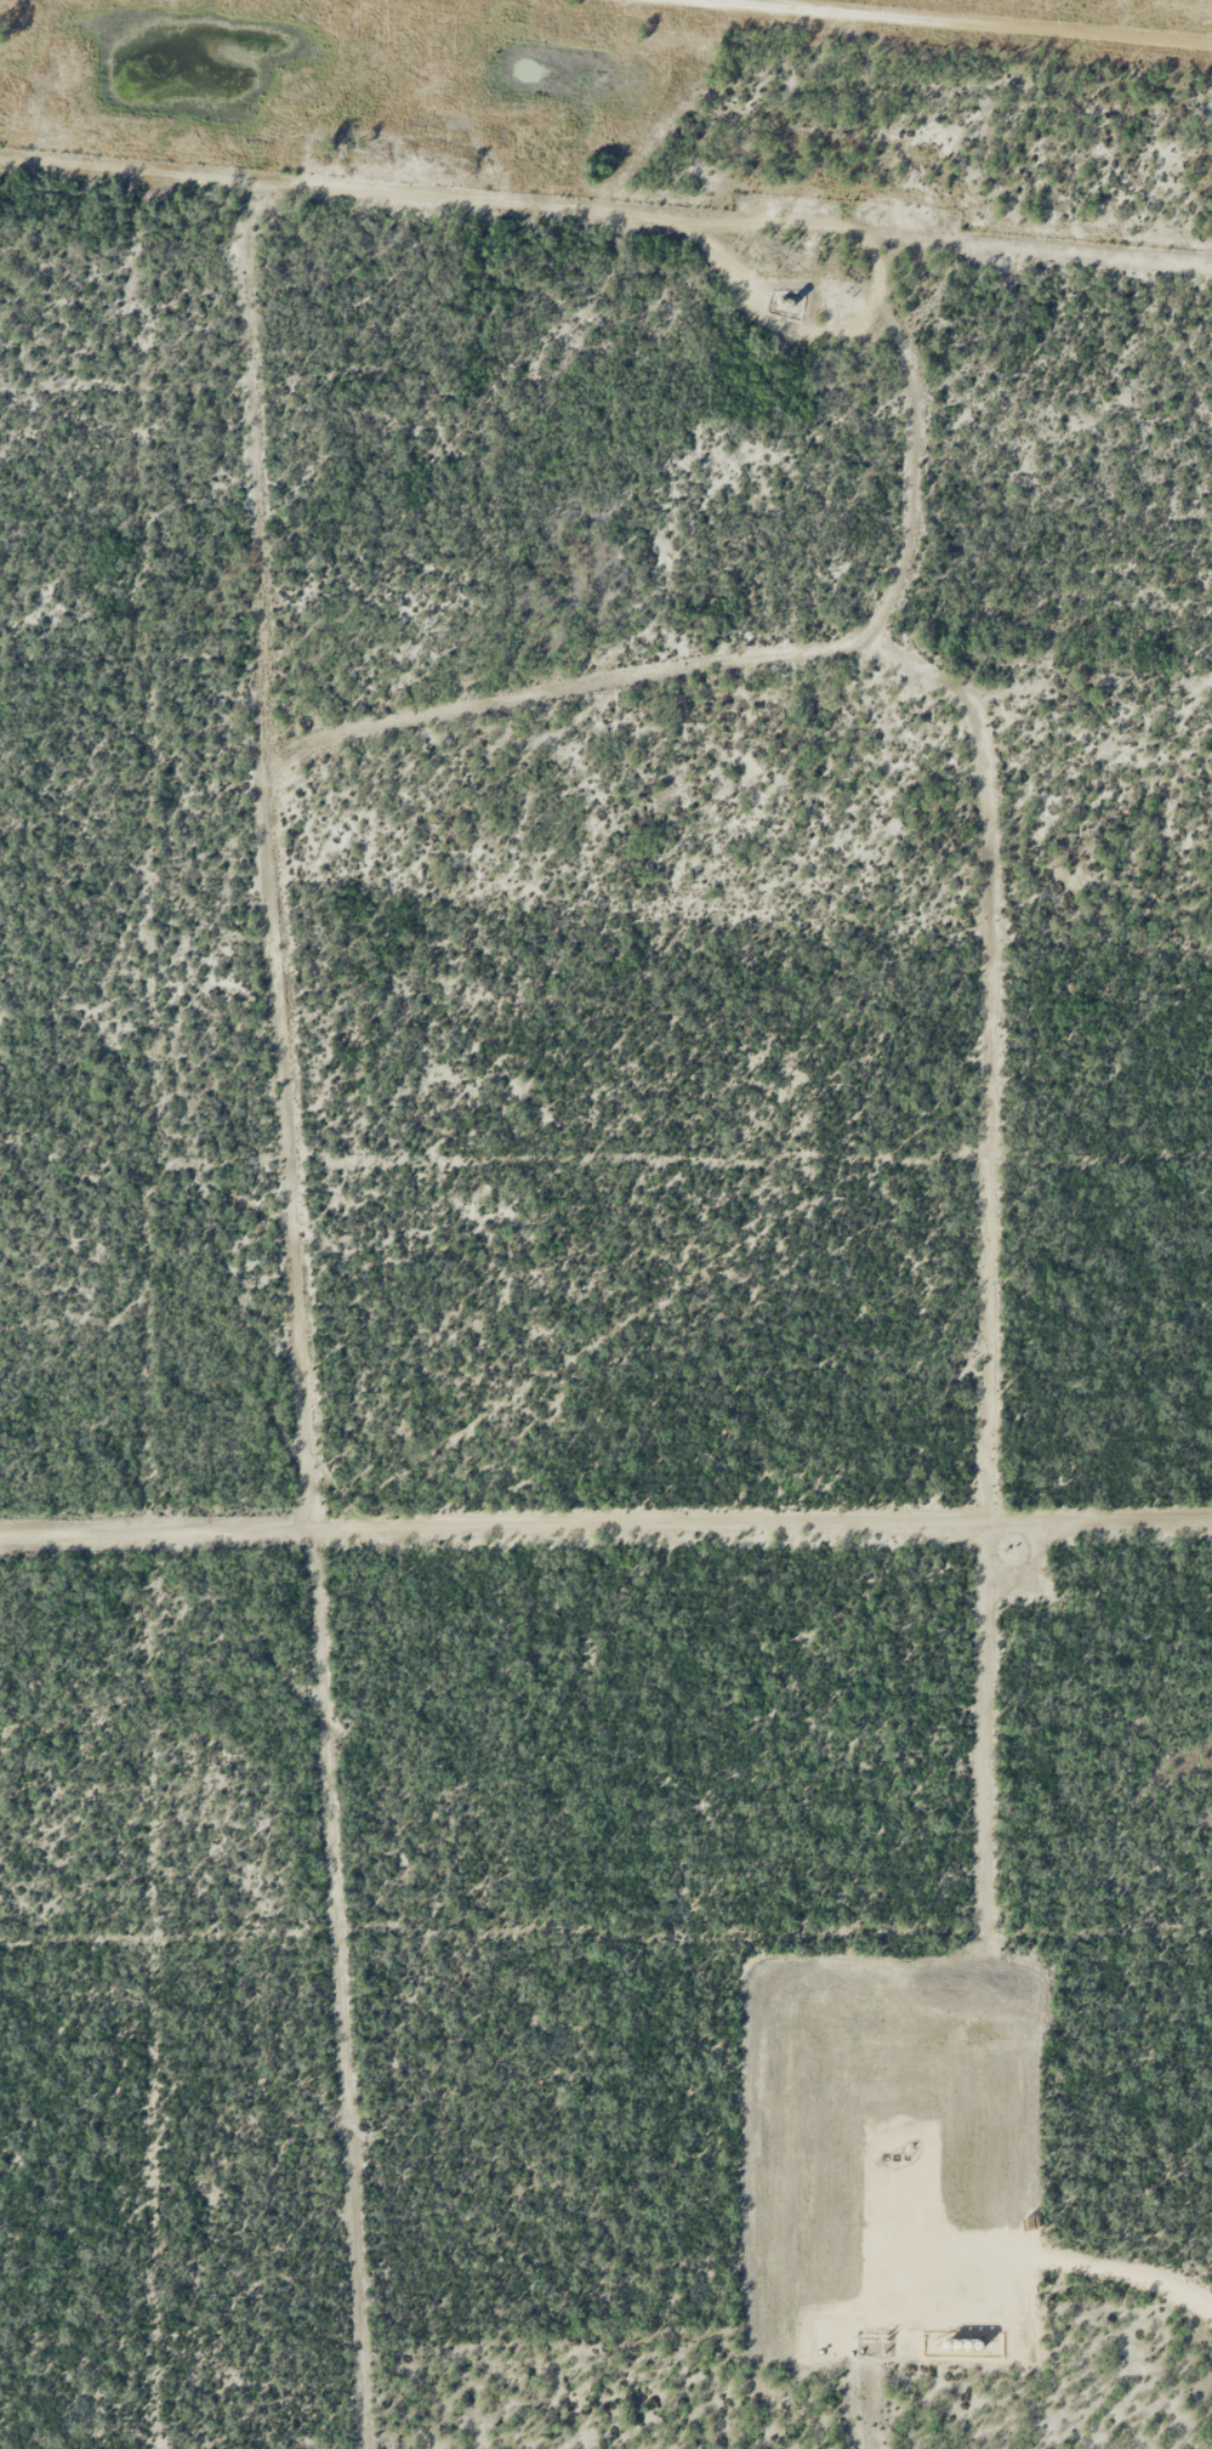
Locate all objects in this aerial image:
road: (968, 21)

